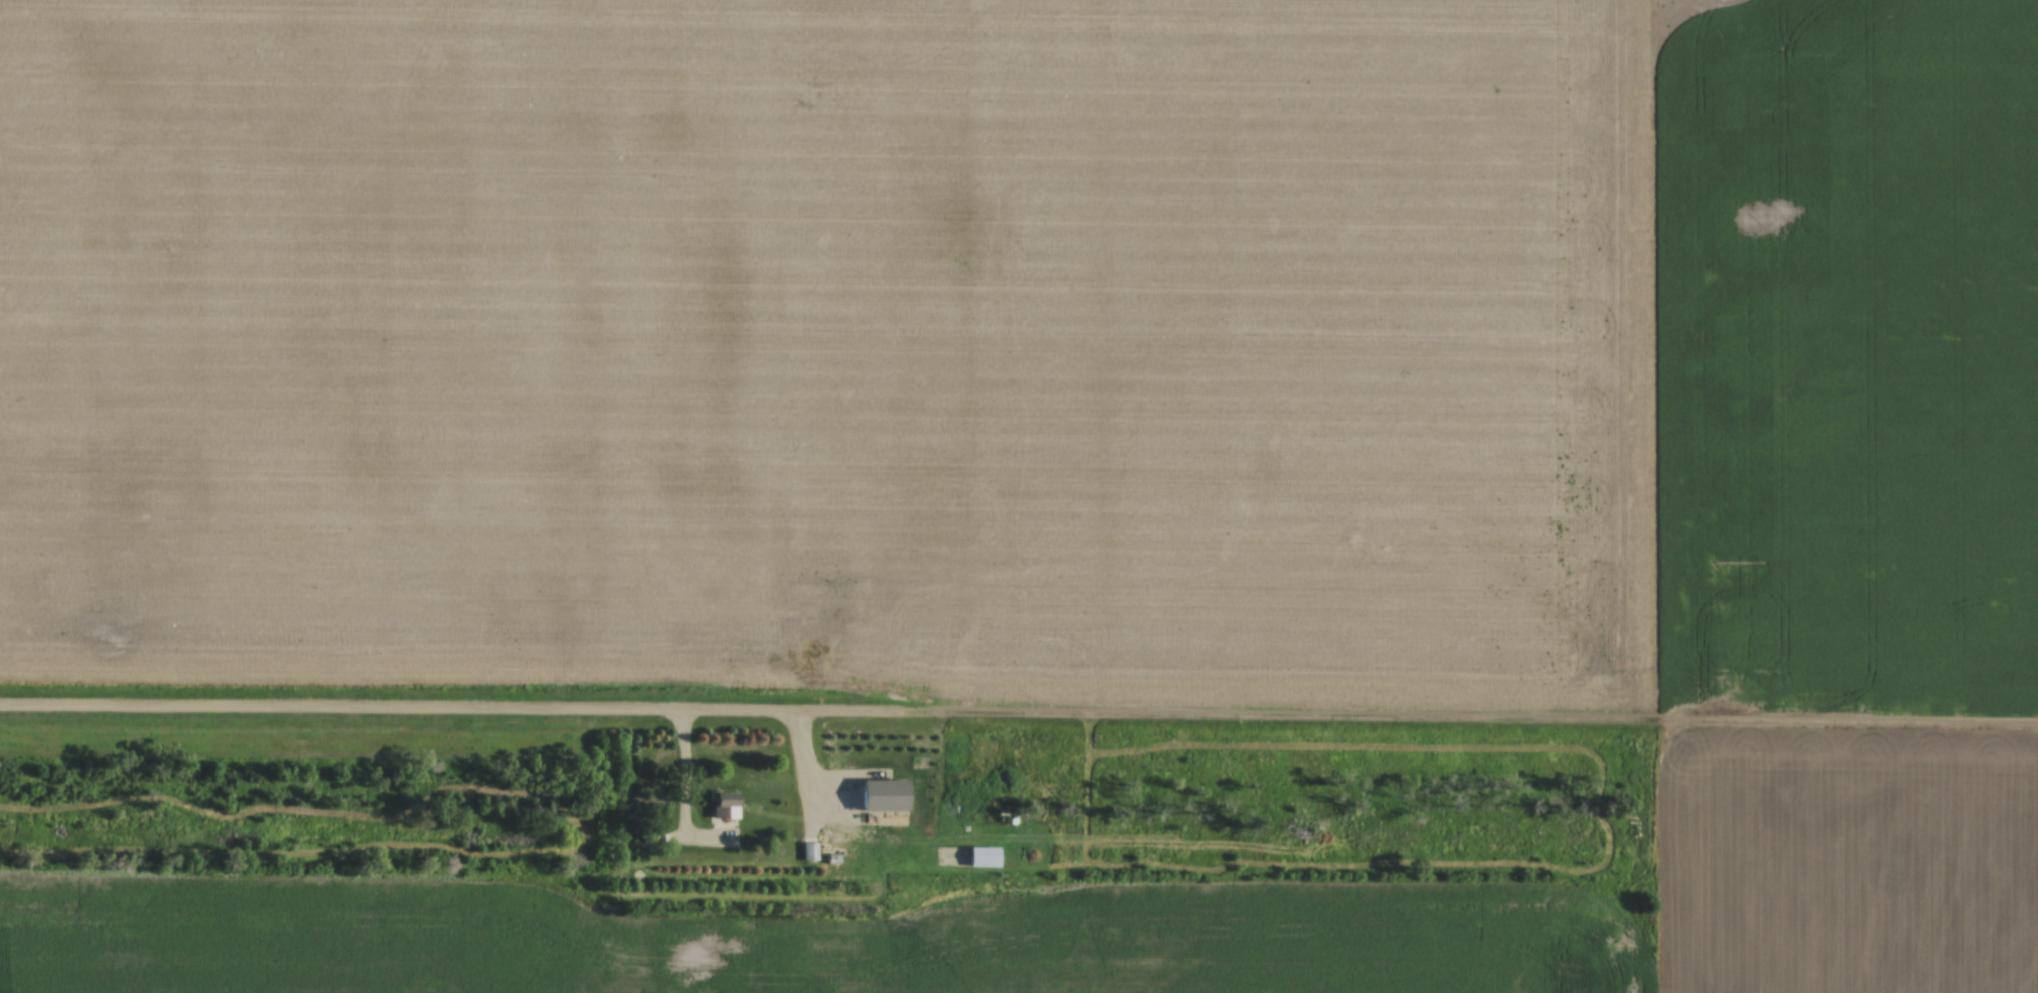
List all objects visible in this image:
road: (1019, 700)
building: (844, 792)
building: (722, 803)
building: (650, 835)

